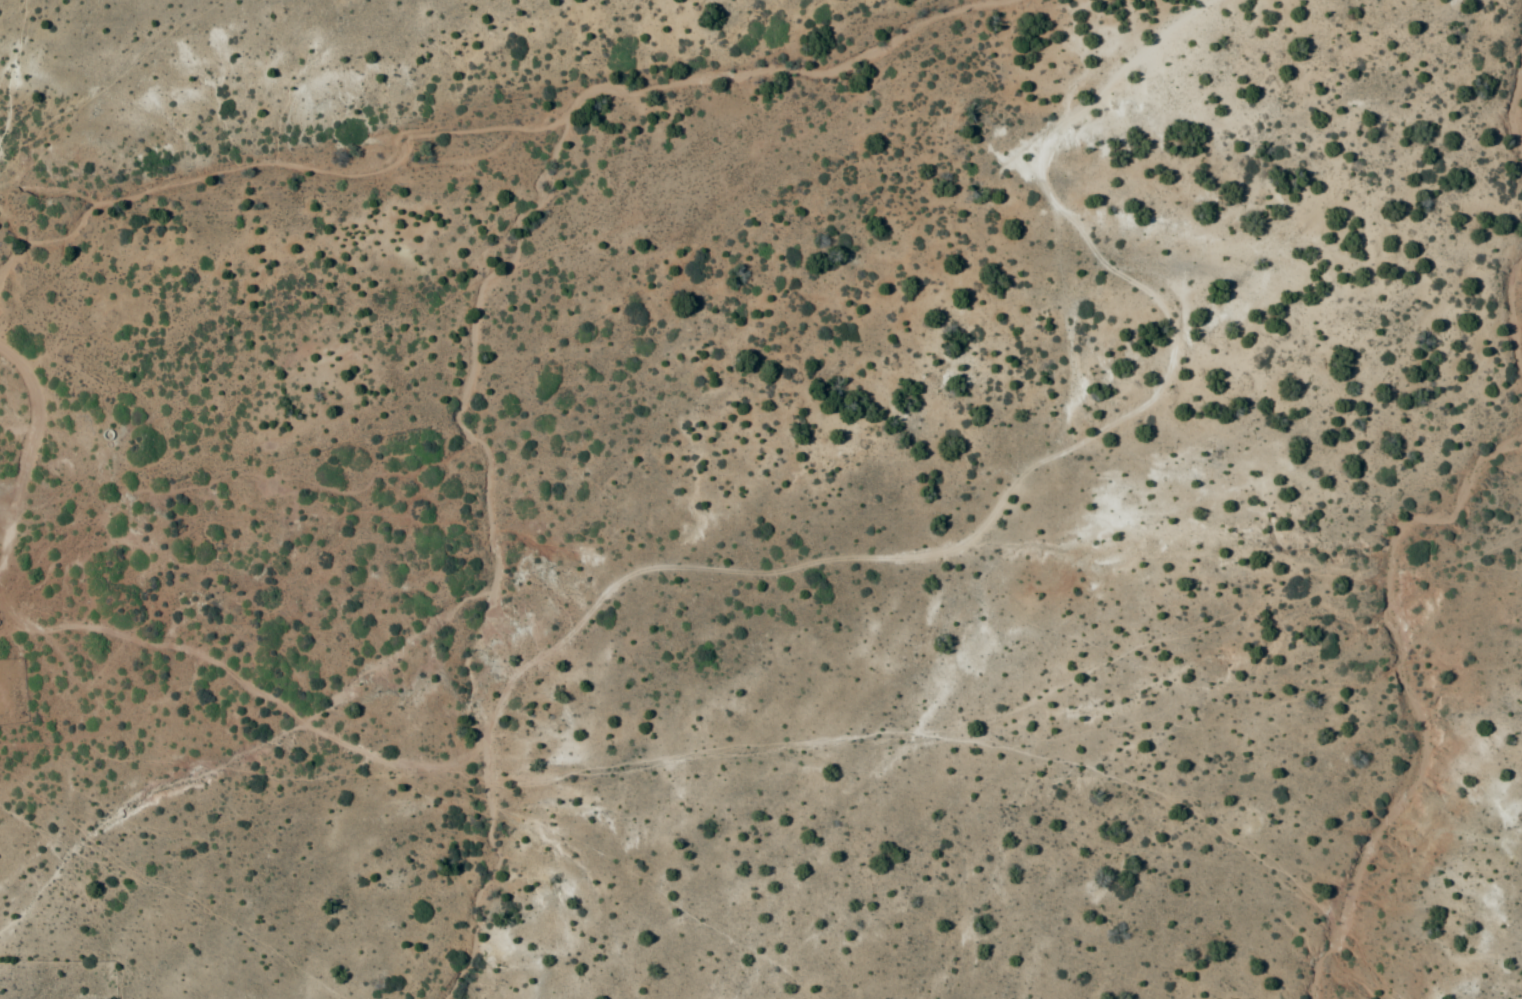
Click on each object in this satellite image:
road: (34, 433)
road: (759, 489)
building: (11, 535)
road: (6, 537)

